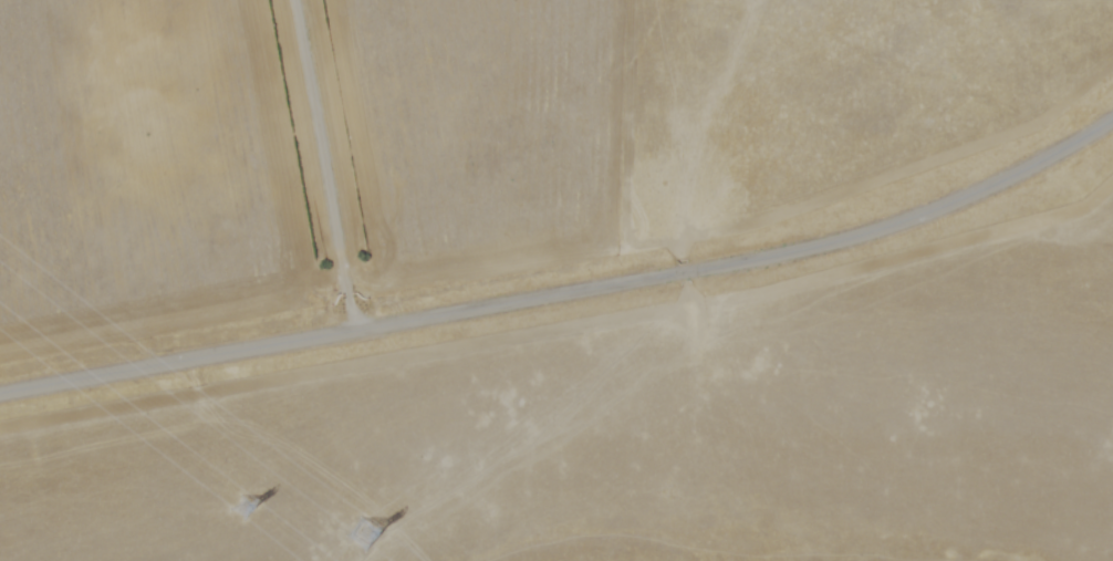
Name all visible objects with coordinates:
road: (324, 168)
road: (569, 298)
power tower: (253, 513)
power tower: (372, 541)

